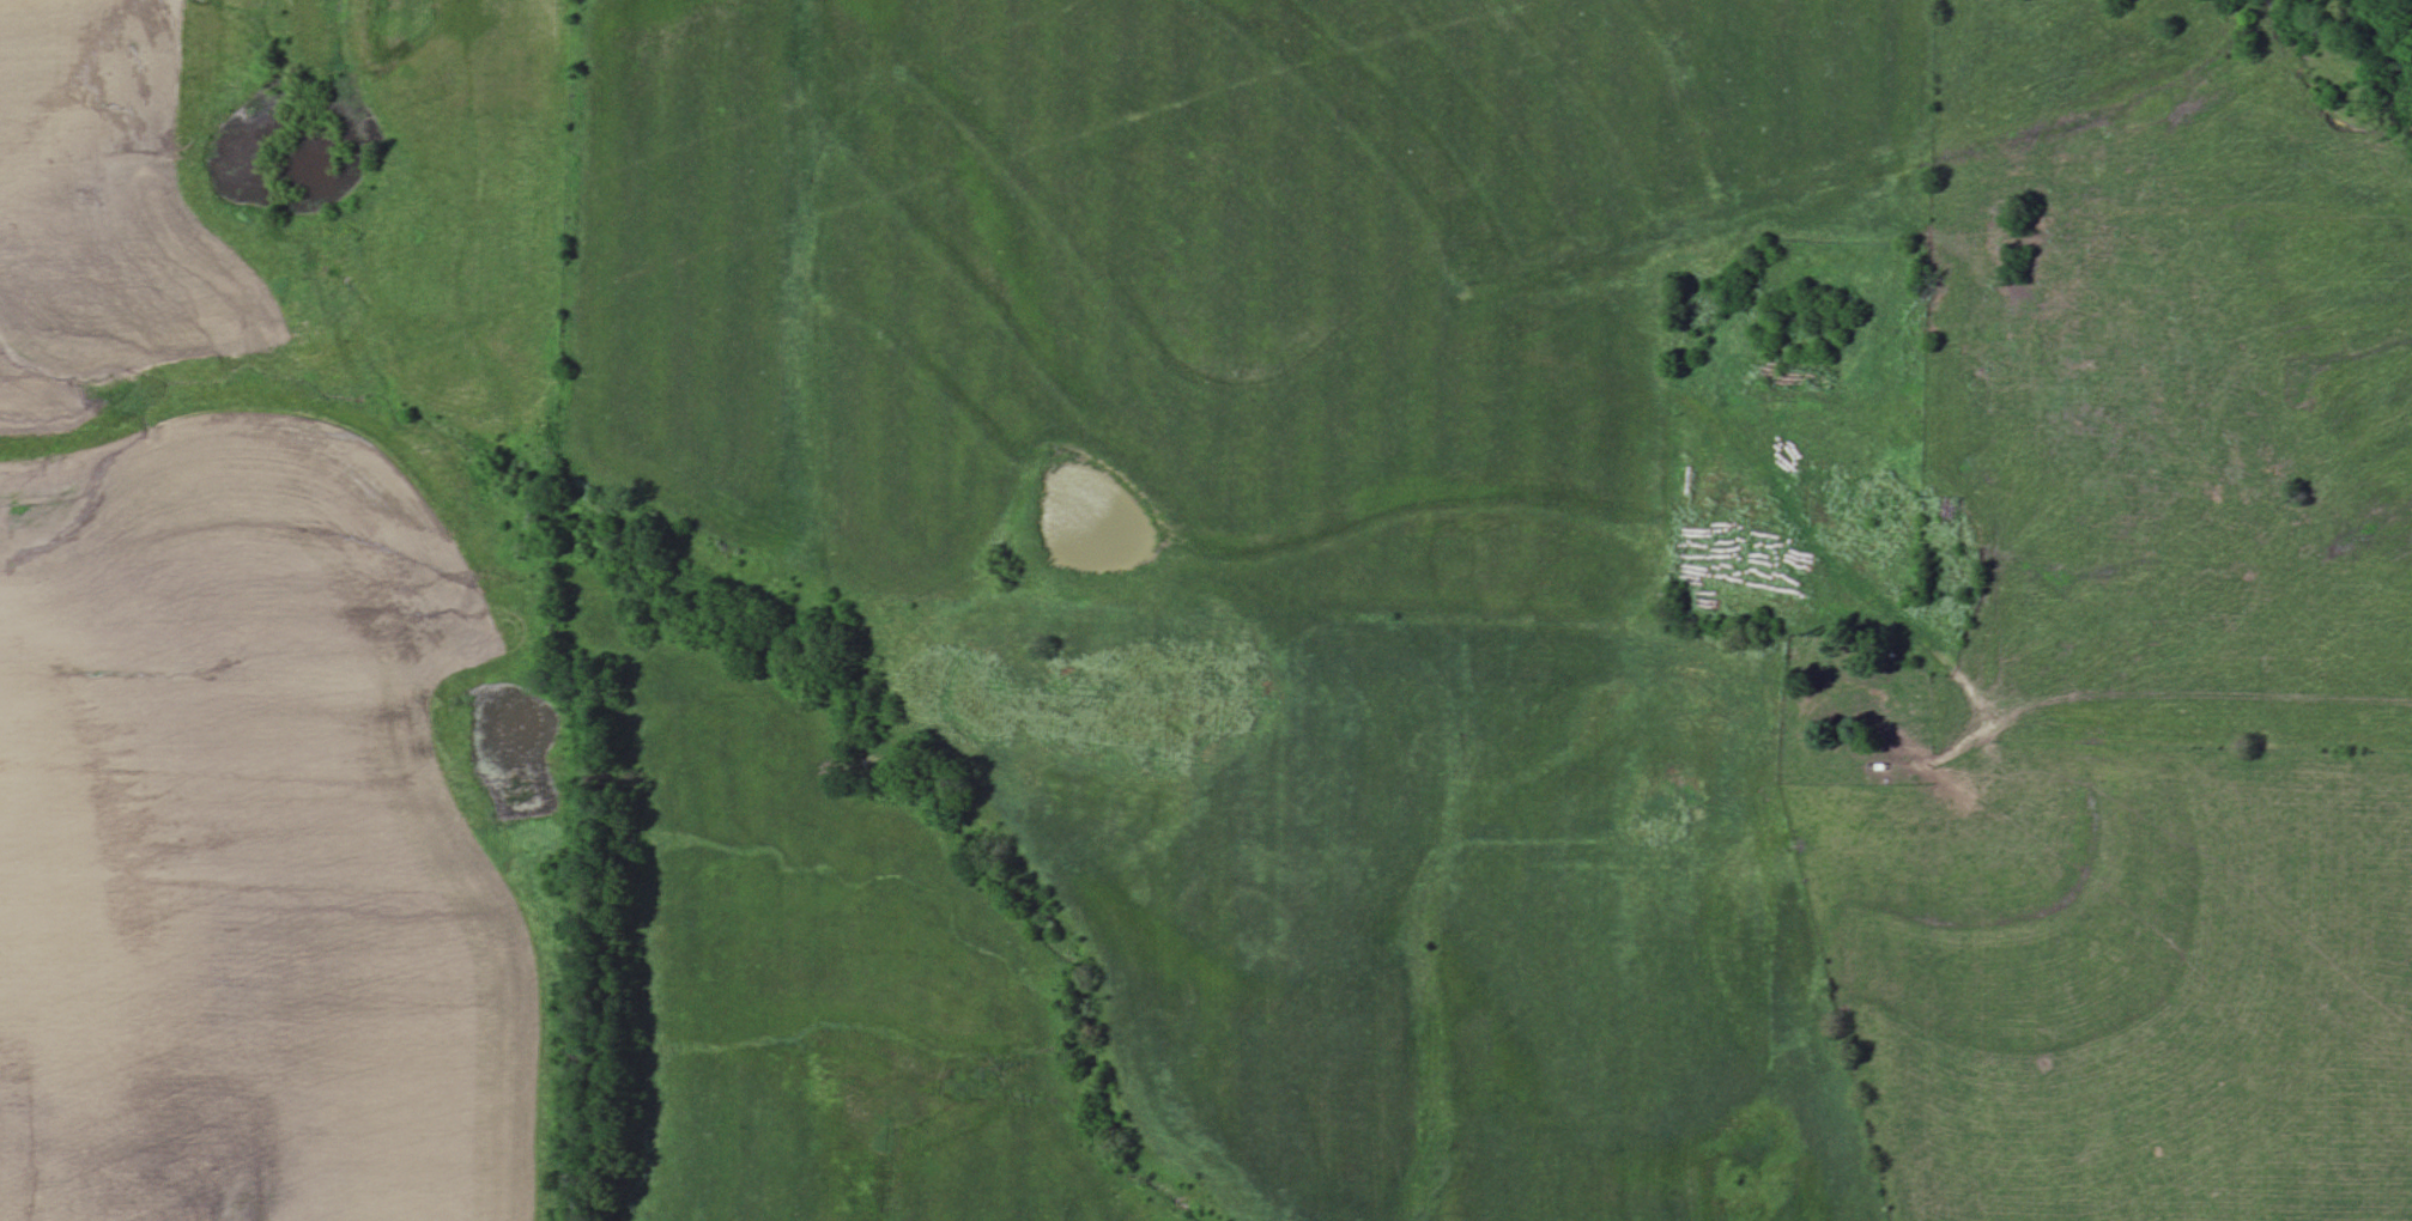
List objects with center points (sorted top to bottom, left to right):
crop: (104, 214)
building: (1836, 686)
road: (2113, 734)
crop: (255, 846)

